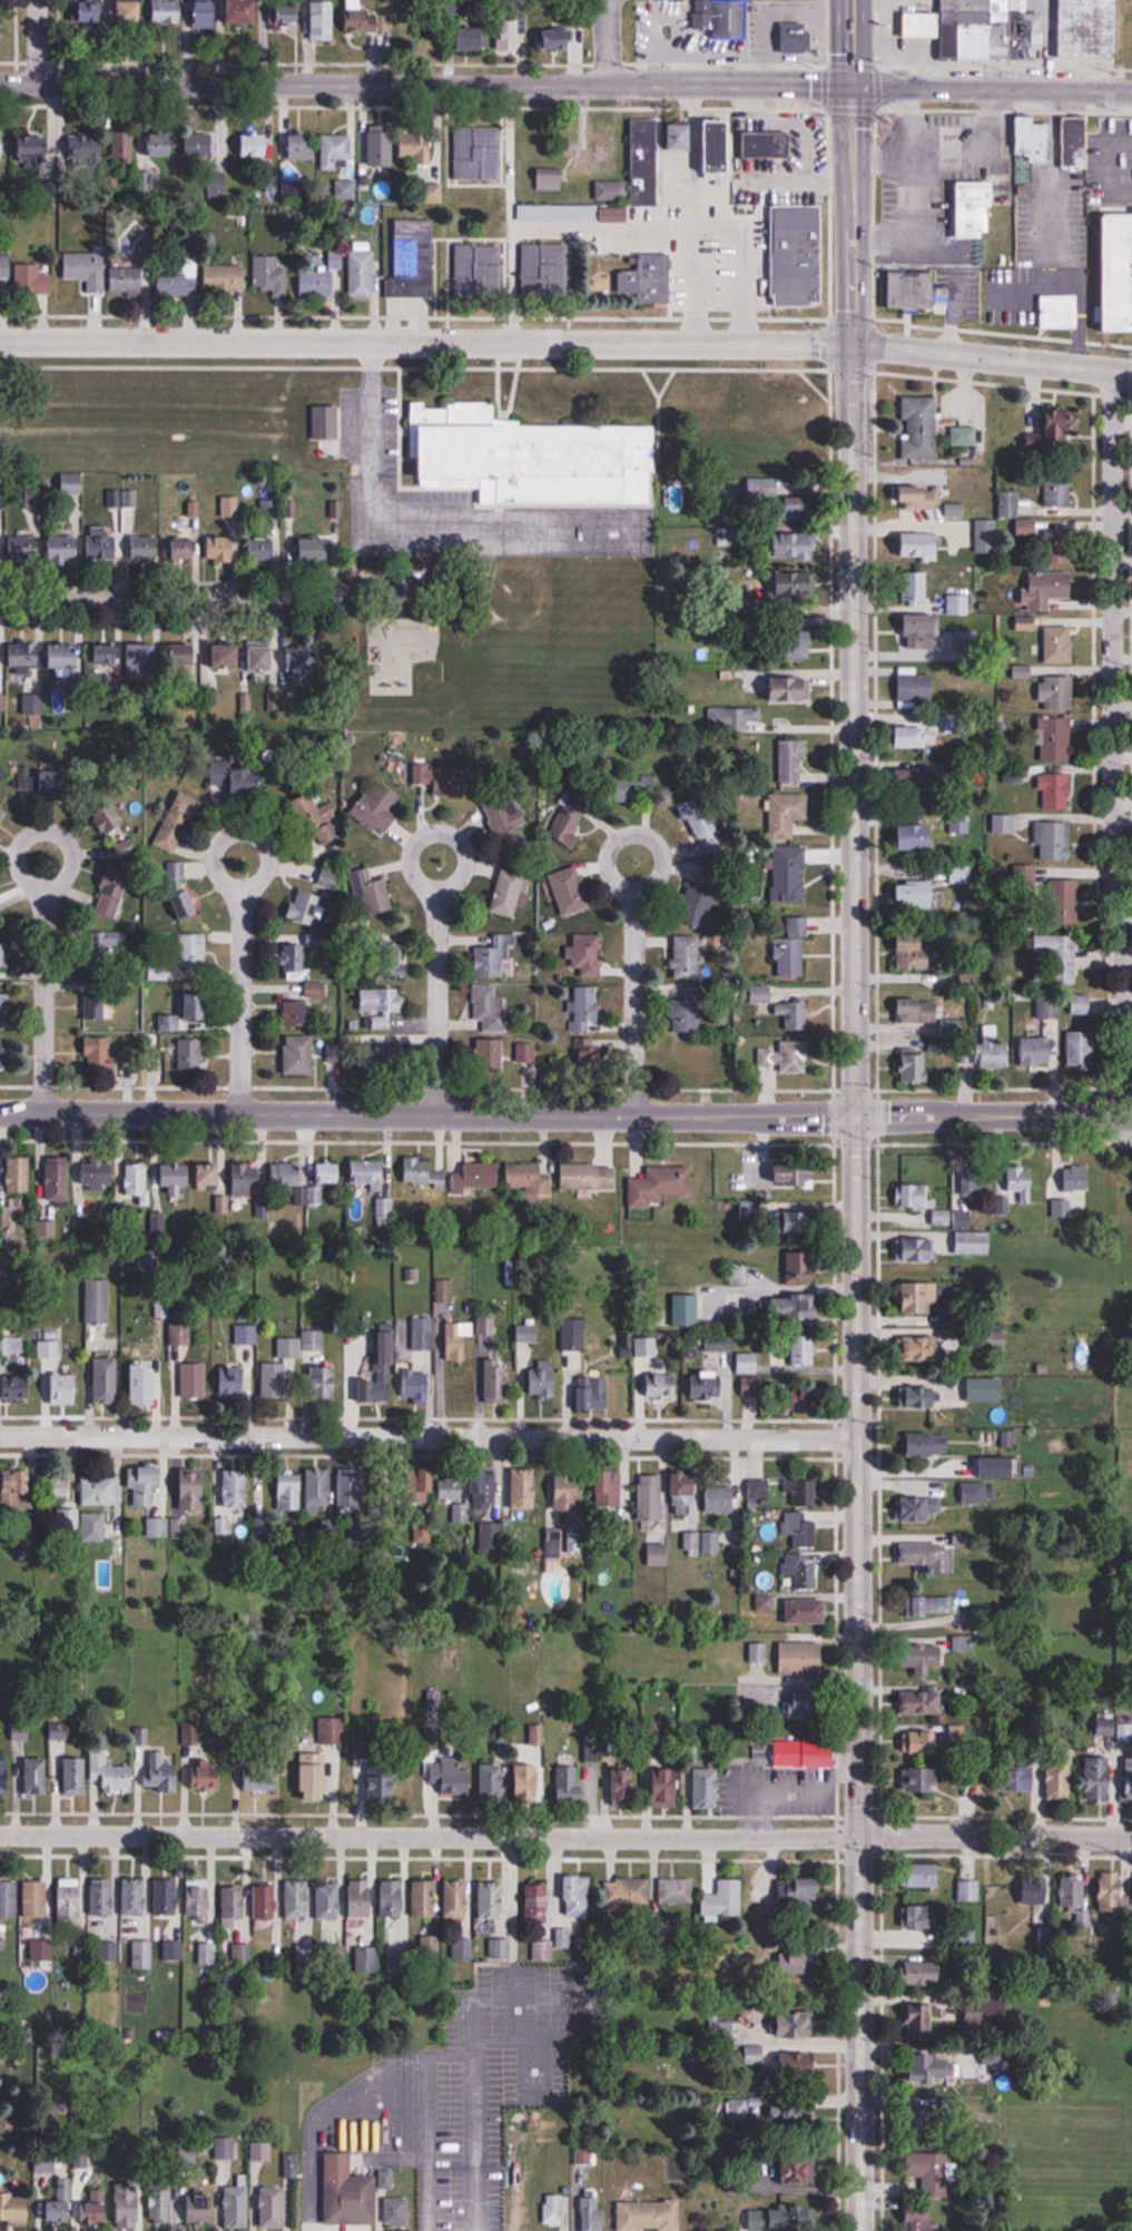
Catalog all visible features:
building: (111, 11)
building: (167, 11)
building: (287, 12)
building: (243, 13)
building: (205, 14)
building: (362, 18)
building: (731, 19)
building: (323, 21)
building: (1089, 29)
building: (982, 30)
building: (510, 33)
building: (1130, 37)
building: (558, 38)
building: (794, 38)
building: (472, 39)
road: (36, 41)
road: (604, 41)
road: (850, 41)
road: (425, 82)
road: (992, 86)
building: (682, 137)
building: (2, 142)
building: (200, 142)
building: (147, 144)
building: (1032, 145)
building: (35, 146)
building: (255, 146)
building: (766, 146)
building: (301, 147)
building: (378, 148)
building: (417, 149)
building: (719, 149)
building: (336, 151)
building: (88, 153)
building: (478, 153)
building: (644, 164)
building: (550, 179)
building: (612, 191)
building: (975, 208)
building: (573, 213)
building: (797, 255)
building: (413, 259)
building: (4, 263)
building: (86, 271)
building: (547, 271)
building: (480, 272)
building: (1118, 273)
building: (272, 274)
building: (362, 274)
building: (177, 277)
building: (225, 278)
building: (322, 278)
building: (32, 279)
building: (127, 279)
building: (657, 281)
building: (910, 291)
building: (1064, 311)
road: (567, 344)
building: (332, 422)
building: (1062, 423)
building: (919, 427)
building: (964, 435)
building: (530, 458)
building: (71, 483)
building: (1057, 491)
building: (916, 497)
building: (784, 499)
building: (1008, 503)
building: (230, 505)
building: (269, 508)
road: (406, 519)
building: (1026, 528)
building: (986, 535)
building: (796, 546)
building: (919, 546)
building: (0, 547)
building: (122, 547)
building: (65, 548)
building: (184, 548)
building: (220, 548)
building: (26, 549)
building: (262, 549)
building: (316, 550)
building: (797, 582)
building: (915, 586)
building: (1051, 588)
road: (852, 600)
road: (173, 601)
building: (958, 603)
building: (924, 623)
building: (1059, 642)
building: (791, 645)
building: (107, 655)
building: (184, 655)
building: (227, 655)
building: (260, 655)
building: (24, 656)
building: (63, 656)
building: (0, 657)
building: (142, 658)
building: (915, 685)
building: (791, 689)
building: (1056, 691)
building: (732, 717)
building: (956, 723)
building: (917, 736)
building: (1055, 738)
road: (1115, 744)
building: (791, 760)
building: (237, 780)
building: (918, 782)
building: (1055, 792)
building: (378, 807)
building: (787, 814)
building: (181, 815)
building: (316, 820)
building: (958, 823)
building: (570, 824)
building: (505, 825)
building: (703, 825)
building: (915, 837)
building: (1053, 842)
building: (961, 873)
building: (788, 874)
building: (328, 878)
building: (178, 891)
building: (571, 891)
building: (916, 892)
building: (371, 893)
building: (111, 894)
building: (509, 895)
building: (1061, 897)
building: (698, 902)
building: (305, 907)
building: (96, 943)
building: (912, 943)
building: (793, 949)
building: (193, 950)
building: (297, 954)
building: (385, 954)
building: (3, 956)
building: (687, 957)
building: (1055, 959)
building: (589, 961)
building: (491, 962)
road: (43, 966)
road: (242, 967)
road: (634, 970)
road: (439, 971)
building: (315, 990)
building: (382, 1000)
building: (96, 1002)
building: (195, 1004)
building: (1080, 1004)
building: (3, 1006)
building: (489, 1009)
building: (689, 1009)
building: (584, 1011)
building: (915, 1011)
building: (297, 1014)
building: (794, 1015)
building: (382, 1022)
building: (949, 1032)
building: (1042, 1036)
building: (994, 1049)
building: (1081, 1049)
building: (491, 1053)
building: (528, 1053)
building: (299, 1054)
building: (784, 1054)
building: (101, 1055)
building: (193, 1055)
building: (691, 1055)
building: (590, 1056)
building: (385, 1059)
building: (4, 1062)
building: (915, 1067)
road: (994, 1114)
road: (427, 1115)
traffic signals: (857, 1117)
building: (796, 1171)
building: (18, 1173)
building: (368, 1173)
building: (97, 1175)
building: (176, 1175)
building: (452, 1175)
building: (209, 1177)
building: (589, 1177)
building: (1075, 1178)
building: (247, 1179)
building: (526, 1179)
building: (58, 1180)
building: (974, 1181)
building: (1021, 1181)
building: (137, 1182)
building: (307, 1182)
building: (660, 1186)
building: (913, 1196)
building: (1061, 1208)
building: (3, 1215)
building: (801, 1223)
building: (974, 1242)
building: (919, 1249)
building: (801, 1262)
building: (738, 1274)
building: (444, 1290)
building: (921, 1297)
building: (98, 1300)
building: (789, 1309)
building: (686, 1310)
building: (179, 1334)
building: (526, 1334)
building: (573, 1334)
building: (419, 1335)
building: (457, 1338)
building: (313, 1340)
building: (49, 1344)
building: (288, 1347)
building: (804, 1348)
building: (923, 1348)
building: (747, 1363)
building: (383, 1370)
building: (543, 1378)
building: (106, 1380)
building: (194, 1380)
building: (495, 1380)
building: (145, 1382)
building: (232, 1382)
building: (274, 1382)
building: (324, 1385)
building: (707, 1385)
building: (662, 1386)
building: (17, 1387)
building: (59, 1388)
building: (417, 1388)
building: (598, 1394)
building: (752, 1396)
building: (922, 1396)
building: (801, 1402)
road: (429, 1437)
building: (929, 1444)
building: (997, 1467)
building: (145, 1484)
building: (58, 1485)
building: (451, 1487)
building: (193, 1488)
building: (235, 1488)
building: (317, 1488)
building: (99, 1490)
building: (523, 1490)
building: (685, 1490)
building: (288, 1491)
building: (609, 1491)
building: (14, 1492)
building: (807, 1492)
building: (416, 1493)
building: (484, 1493)
building: (650, 1497)
building: (720, 1498)
building: (569, 1500)
building: (913, 1508)
building: (457, 1513)
building: (92, 1526)
building: (158, 1526)
building: (799, 1530)
building: (554, 1543)
building: (658, 1554)
building: (931, 1555)
building: (803, 1573)
building: (766, 1603)
building: (934, 1603)
building: (806, 1610)
building: (982, 1618)
building: (801, 1657)
building: (925, 1659)
road: (858, 1673)
building: (923, 1702)
building: (809, 1703)
building: (1115, 1729)
building: (957, 1732)
building: (924, 1741)
building: (805, 1752)
building: (154, 1771)
building: (66, 1773)
building: (104, 1773)
building: (28, 1775)
building: (260, 1775)
building: (197, 1776)
building: (4, 1777)
building: (449, 1777)
building: (1033, 1778)
building: (1099, 1778)
building: (1129, 1778)
building: (313, 1781)
building: (385, 1781)
building: (918, 1781)
building: (493, 1782)
building: (526, 1782)
building: (570, 1783)
building: (624, 1786)
building: (667, 1788)
building: (707, 1788)
road: (565, 1836)
building: (918, 1875)
building: (969, 1888)
building: (1035, 1888)
building: (676, 1890)
building: (1073, 1890)
building: (627, 1891)
building: (800, 1891)
building: (1113, 1893)
building: (125, 1895)
building: (3, 1896)
building: (93, 1896)
building: (157, 1896)
building: (578, 1896)
building: (27, 1897)
building: (61, 1897)
building: (190, 1898)
building: (361, 1898)
building: (297, 1899)
building: (394, 1899)
building: (424, 1899)
building: (456, 1899)
building: (725, 1899)
building: (266, 1900)
building: (490, 1900)
building: (328, 1901)
building: (234, 1903)
building: (538, 1903)
building: (921, 1917)
building: (959, 1938)
building: (463, 1949)
building: (500, 1949)
building: (543, 1949)
building: (108, 1952)
building: (174, 1952)
building: (142, 1955)
building: (366, 1959)
building: (805, 1963)
building: (921, 1973)
building: (986, 2013)
building: (922, 2021)
building: (796, 2023)
building: (797, 2066)
building: (934, 2067)
building: (738, 2109)
building: (929, 2120)
building: (584, 2155)
building: (929, 2170)
building: (799, 2171)
building: (347, 2193)
building: (154, 2199)
building: (52, 2200)
building: (87, 2203)
building: (119, 2204)
building: (228, 2204)
building: (263, 2205)
building: (9, 2208)
building: (189, 2208)
building: (554, 2210)
building: (592, 2210)
building: (397, 2211)
building: (649, 2215)
building: (794, 2218)
building: (919, 2219)

